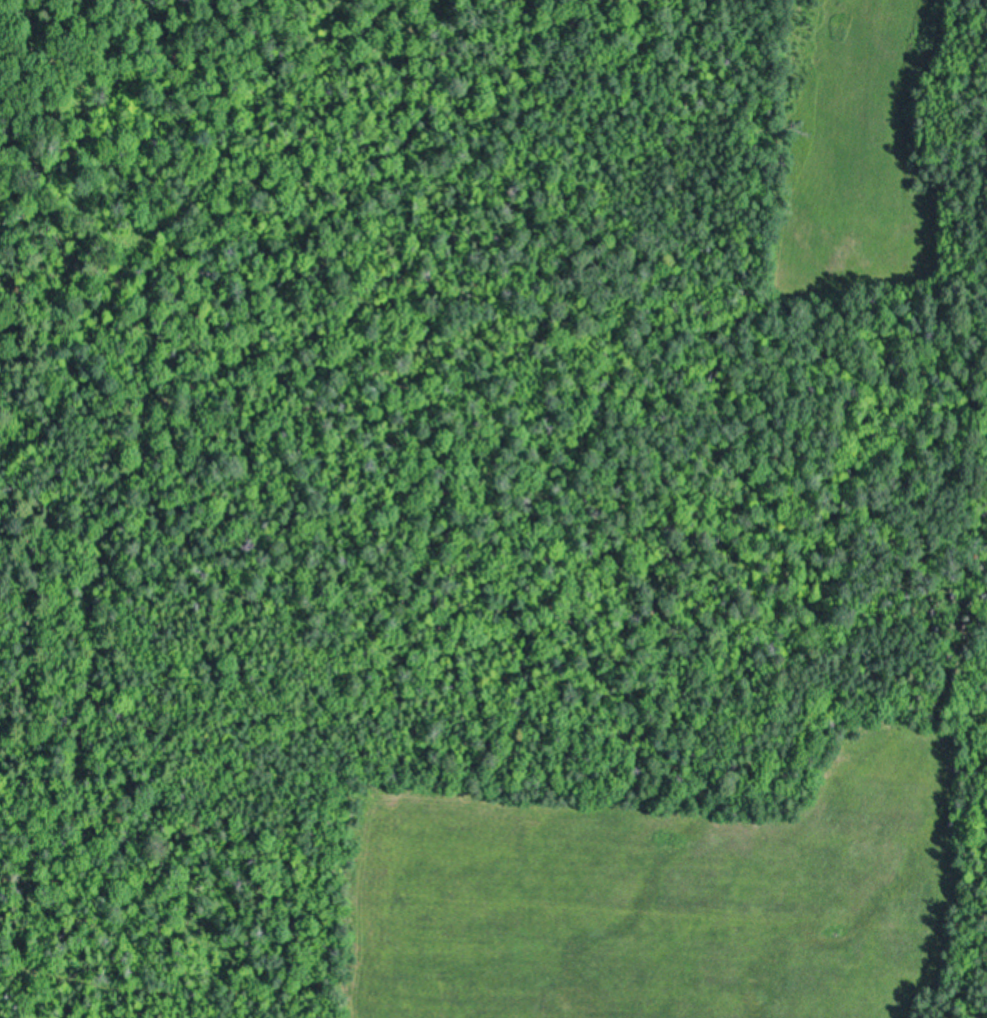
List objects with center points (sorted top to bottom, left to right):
building: (3, 967)

